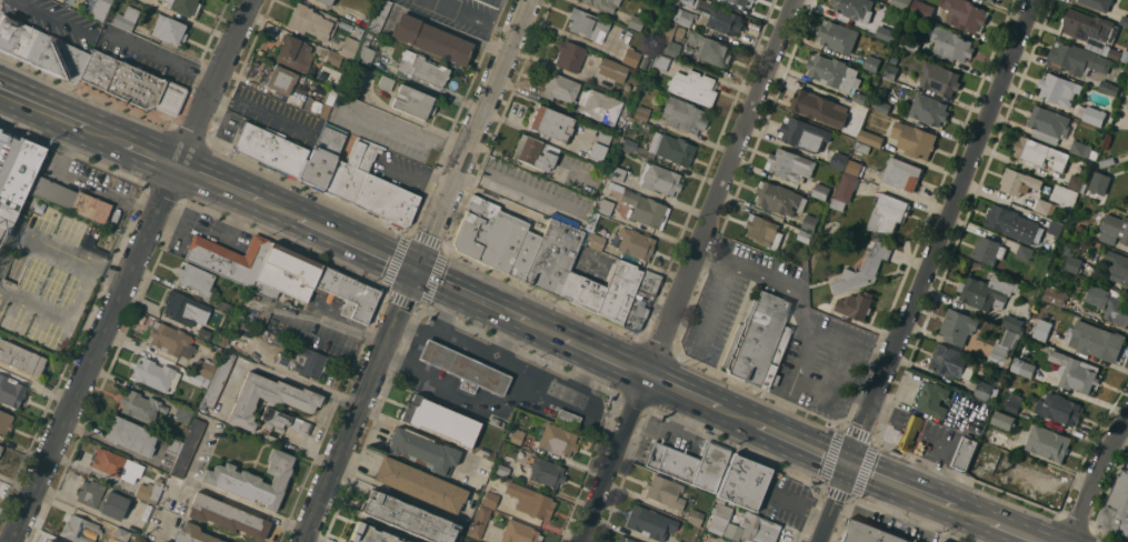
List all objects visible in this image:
building: (752, 0)
building: (326, 1)
building: (990, 1)
building: (741, 2)
building: (603, 3)
building: (901, 3)
building: (1098, 4)
building: (183, 6)
building: (100, 8)
building: (855, 8)
building: (922, 9)
building: (964, 13)
road: (49, 16)
building: (379, 16)
building: (708, 16)
road: (472, 17)
building: (127, 18)
building: (311, 21)
building: (1124, 21)
building: (636, 22)
building: (588, 24)
building: (169, 29)
building: (358, 31)
building: (679, 31)
building: (1094, 31)
building: (887, 32)
building: (838, 36)
building: (431, 39)
building: (1122, 39)
building: (669, 41)
building: (909, 43)
building: (951, 44)
building: (348, 47)
building: (366, 48)
building: (41, 49)
building: (709, 49)
building: (295, 53)
road: (162, 56)
building: (569, 56)
building: (1125, 56)
building: (630, 57)
building: (335, 58)
building: (1077, 59)
building: (667, 63)
building: (872, 63)
building: (423, 69)
building: (612, 69)
building: (891, 71)
building: (833, 72)
building: (355, 78)
building: (940, 78)
building: (282, 79)
building: (386, 82)
building: (131, 83)
building: (693, 87)
building: (1109, 87)
building: (560, 88)
building: (1058, 88)
building: (860, 98)
building: (413, 101)
building: (321, 103)
building: (599, 104)
building: (881, 106)
building: (820, 107)
building: (860, 109)
building: (928, 109)
road: (42, 111)
road: (261, 112)
building: (641, 112)
building: (1091, 114)
building: (682, 116)
building: (551, 123)
building: (1048, 124)
building: (0, 129)
building: (805, 134)
building: (870, 138)
road: (104, 139)
building: (915, 139)
building: (600, 144)
building: (629, 144)
building: (862, 147)
building: (671, 148)
building: (1080, 148)
building: (271, 149)
building: (535, 152)
building: (1040, 153)
building: (1094, 154)
road: (150, 159)
building: (321, 159)
building: (839, 160)
building: (1106, 162)
building: (790, 164)
building: (856, 164)
building: (598, 169)
building: (617, 173)
building: (901, 173)
building: (14, 174)
building: (659, 179)
road: (415, 180)
building: (1019, 182)
building: (1078, 182)
building: (1099, 182)
building: (369, 185)
road: (217, 188)
building: (821, 191)
building: (845, 191)
road: (516, 193)
building: (779, 198)
building: (71, 200)
building: (37, 204)
building: (605, 205)
building: (1045, 207)
building: (645, 209)
building: (1127, 211)
road: (277, 213)
building: (888, 213)
building: (810, 222)
building: (1014, 223)
building: (1055, 227)
building: (1080, 228)
building: (1114, 229)
building: (762, 231)
building: (805, 235)
building: (497, 238)
building: (593, 240)
building: (635, 243)
building: (1048, 244)
road: (355, 248)
building: (988, 250)
building: (1025, 251)
building: (553, 255)
road: (81, 258)
building: (230, 258)
road: (711, 262)
building: (1074, 263)
building: (1118, 267)
building: (864, 269)
road: (128, 270)
road: (415, 271)
road: (686, 271)
road: (926, 271)
building: (286, 274)
traffic signals: (413, 274)
building: (196, 279)
road: (763, 280)
building: (648, 283)
building: (603, 291)
building: (988, 291)
building: (348, 293)
building: (1055, 295)
road: (469, 299)
building: (1110, 303)
building: (856, 304)
building: (224, 307)
building: (186, 308)
road: (715, 309)
road: (63, 315)
building: (635, 315)
road: (330, 322)
building: (1012, 322)
building: (958, 325)
building: (1042, 330)
road: (543, 332)
building: (203, 333)
road: (502, 338)
building: (170, 340)
building: (222, 341)
building: (759, 341)
building: (1097, 341)
building: (281, 342)
road: (848, 345)
building: (1005, 348)
road: (419, 349)
building: (216, 357)
building: (21, 358)
road: (602, 358)
road: (501, 359)
building: (949, 361)
building: (305, 362)
road: (799, 364)
building: (204, 368)
road: (262, 368)
building: (1024, 368)
building: (465, 369)
building: (1076, 372)
building: (153, 373)
building: (199, 379)
building: (217, 380)
building: (985, 390)
building: (11, 391)
road: (462, 391)
road: (680, 393)
building: (934, 400)
building: (272, 403)
building: (1015, 403)
building: (141, 406)
building: (1059, 408)
building: (182, 413)
road: (737, 416)
building: (567, 418)
building: (1004, 419)
building: (440, 420)
building: (497, 421)
road: (590, 421)
building: (6, 422)
road: (319, 422)
building: (911, 432)
building: (131, 435)
building: (517, 435)
building: (997, 438)
building: (558, 440)
building: (1048, 443)
road: (802, 444)
building: (174, 446)
building: (1, 448)
building: (188, 448)
building: (423, 449)
building: (965, 452)
building: (689, 463)
traffic signals: (848, 464)
building: (116, 465)
building: (502, 470)
building: (547, 472)
building: (253, 479)
road: (1094, 480)
building: (743, 482)
building: (420, 484)
road: (901, 486)
road: (182, 489)
building: (150, 491)
building: (665, 491)
building: (90, 493)
road: (219, 496)
building: (490, 499)
building: (530, 500)
building: (113, 504)
building: (1118, 505)
road: (797, 506)
building: (227, 515)
road: (972, 515)
building: (695, 516)
building: (408, 518)
building: (479, 522)
building: (650, 522)
building: (741, 525)
building: (80, 529)
building: (520, 532)
road: (1016, 532)
building: (369, 533)
building: (869, 533)
building: (194, 534)
building: (120, 535)
building: (625, 539)
building: (46, 541)
building: (678, 541)
building: (947, 541)

